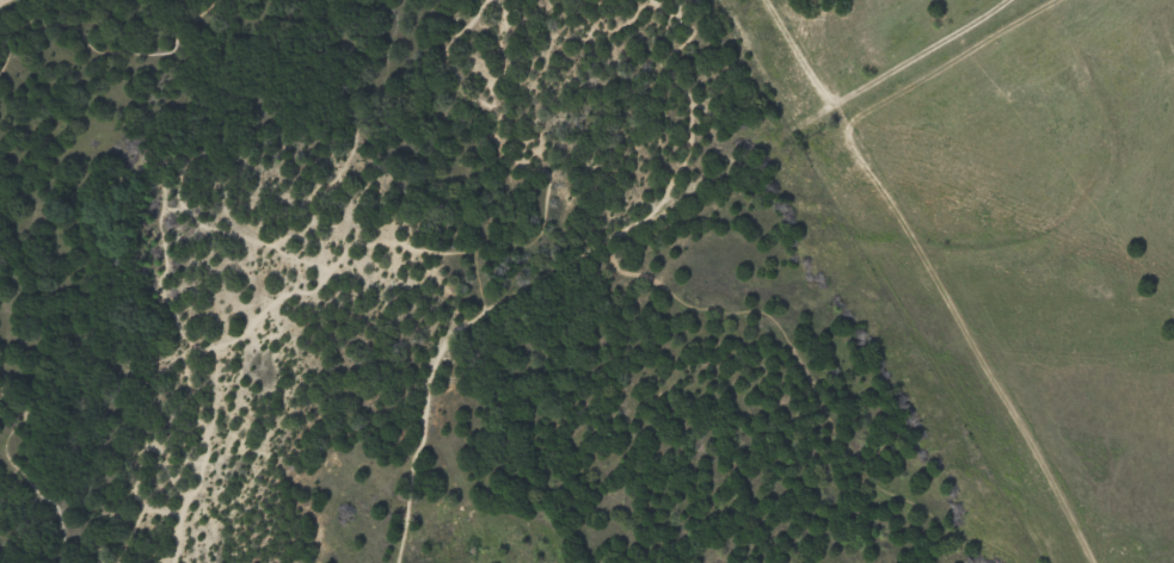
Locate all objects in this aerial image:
road: (264, 179)
road: (10, 391)
road: (47, 496)

